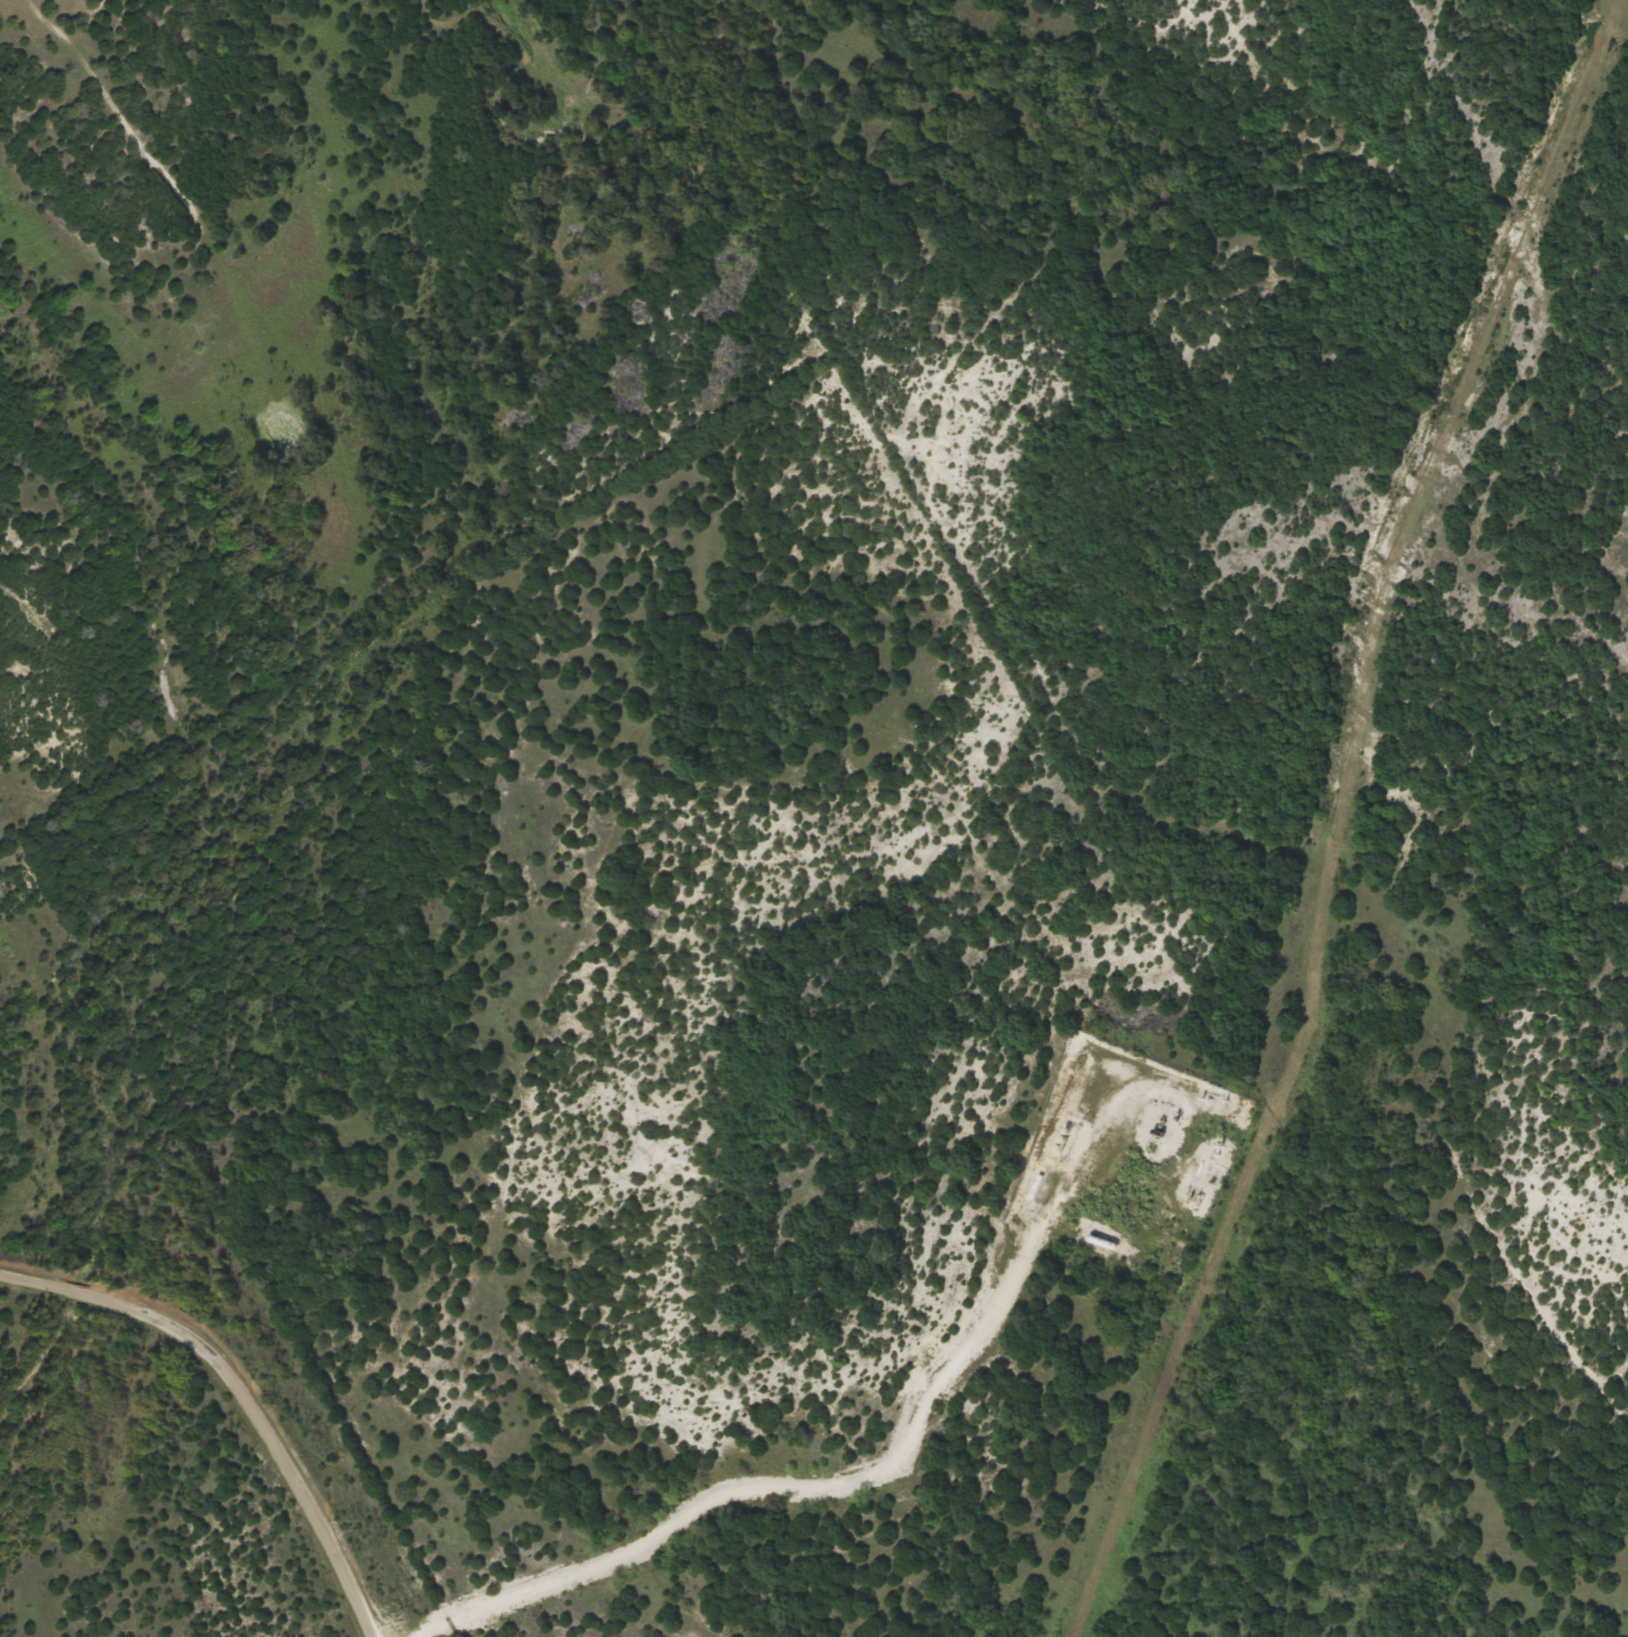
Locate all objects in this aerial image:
road: (245, 1393)

